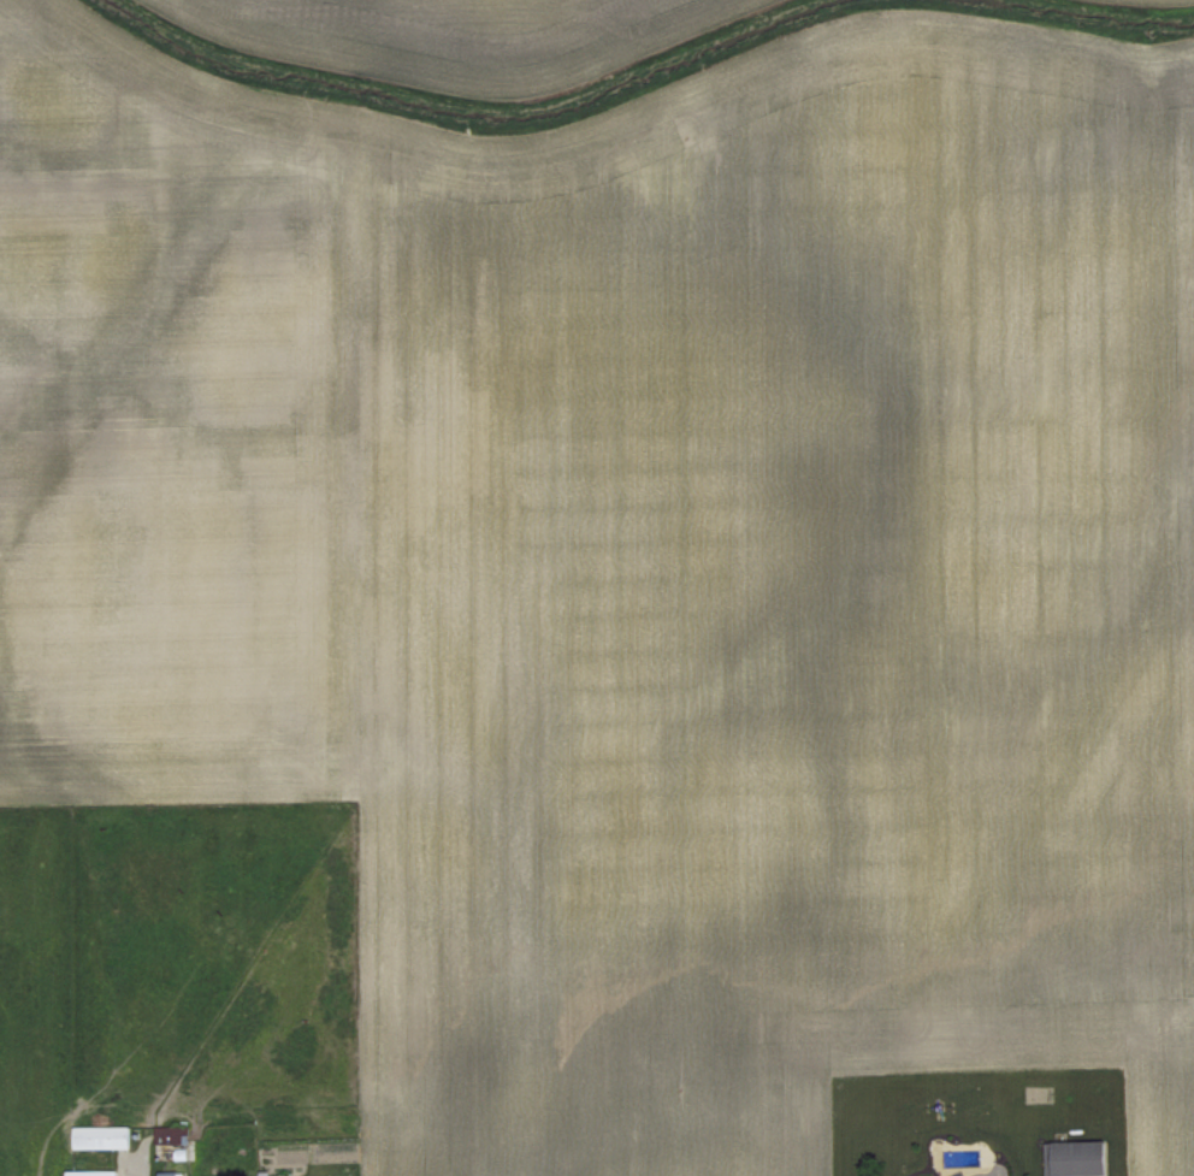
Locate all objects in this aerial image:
building: (169, 1131)
building: (102, 1135)
building: (1077, 1156)
building: (93, 1171)

